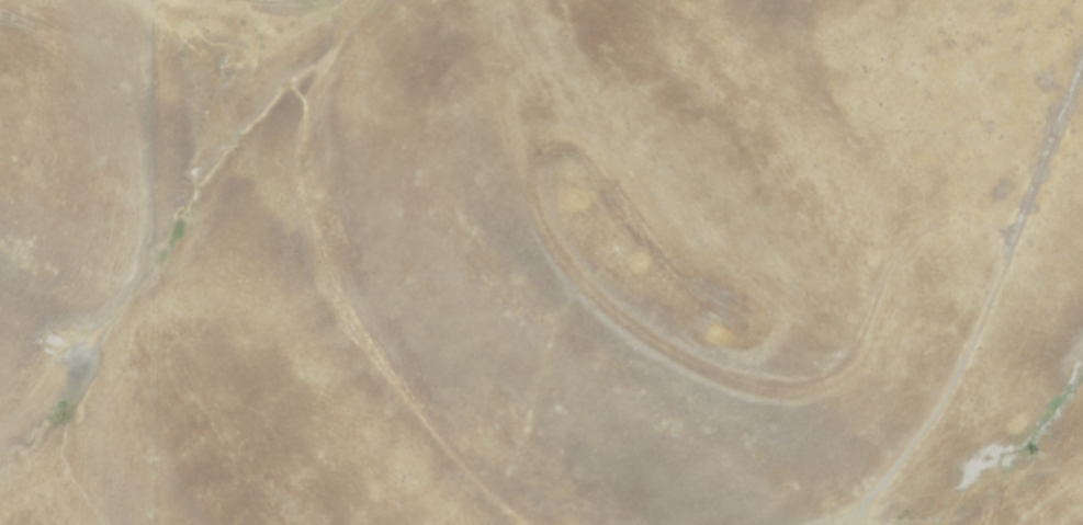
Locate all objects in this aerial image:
wastewater plant: (939, 493)

